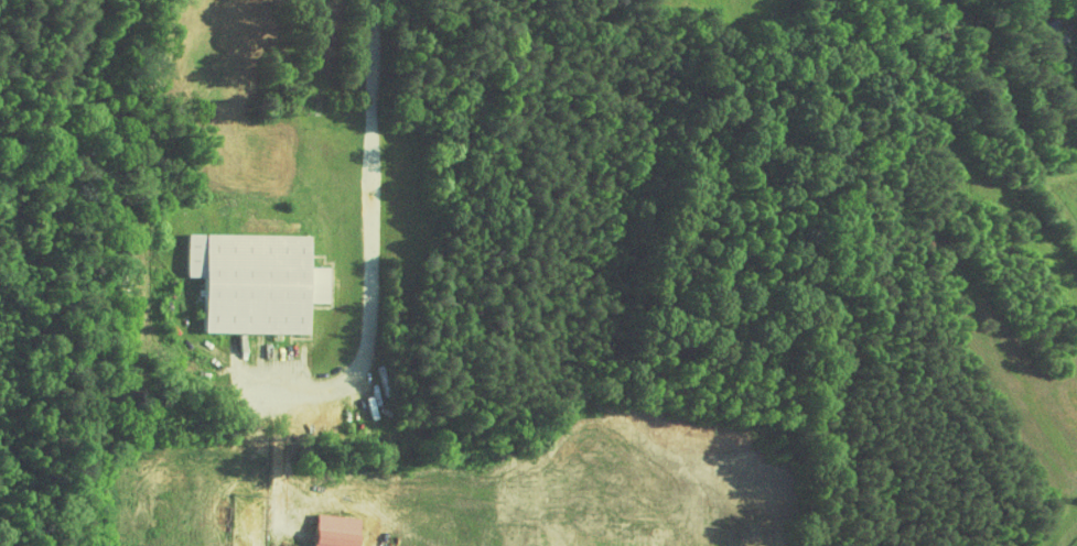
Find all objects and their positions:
road: (374, 230)
building: (247, 282)
building: (327, 531)

